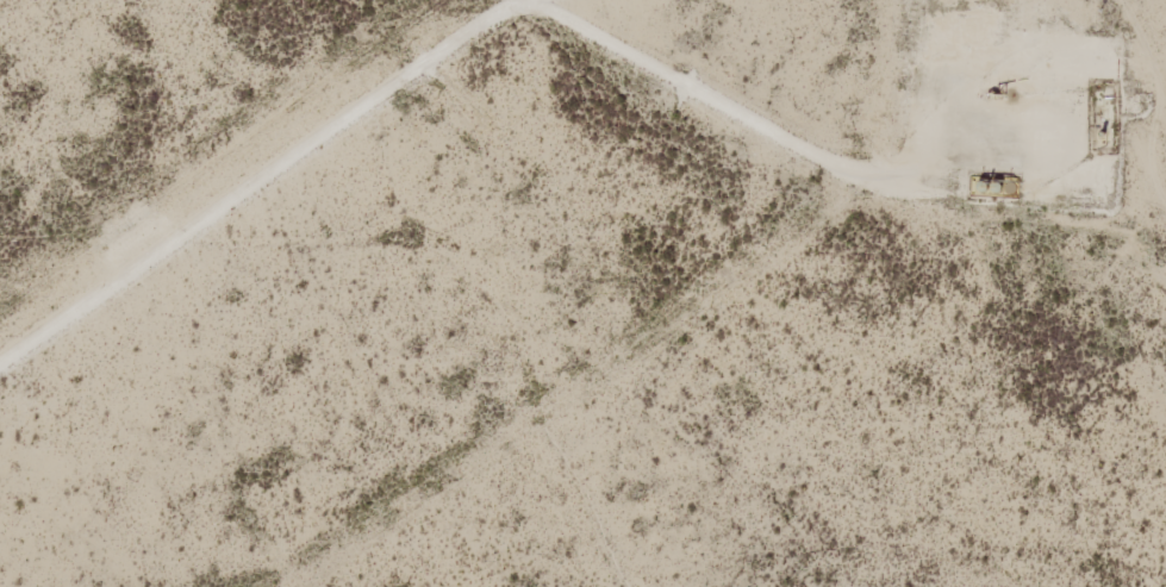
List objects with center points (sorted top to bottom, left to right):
road: (260, 173)

